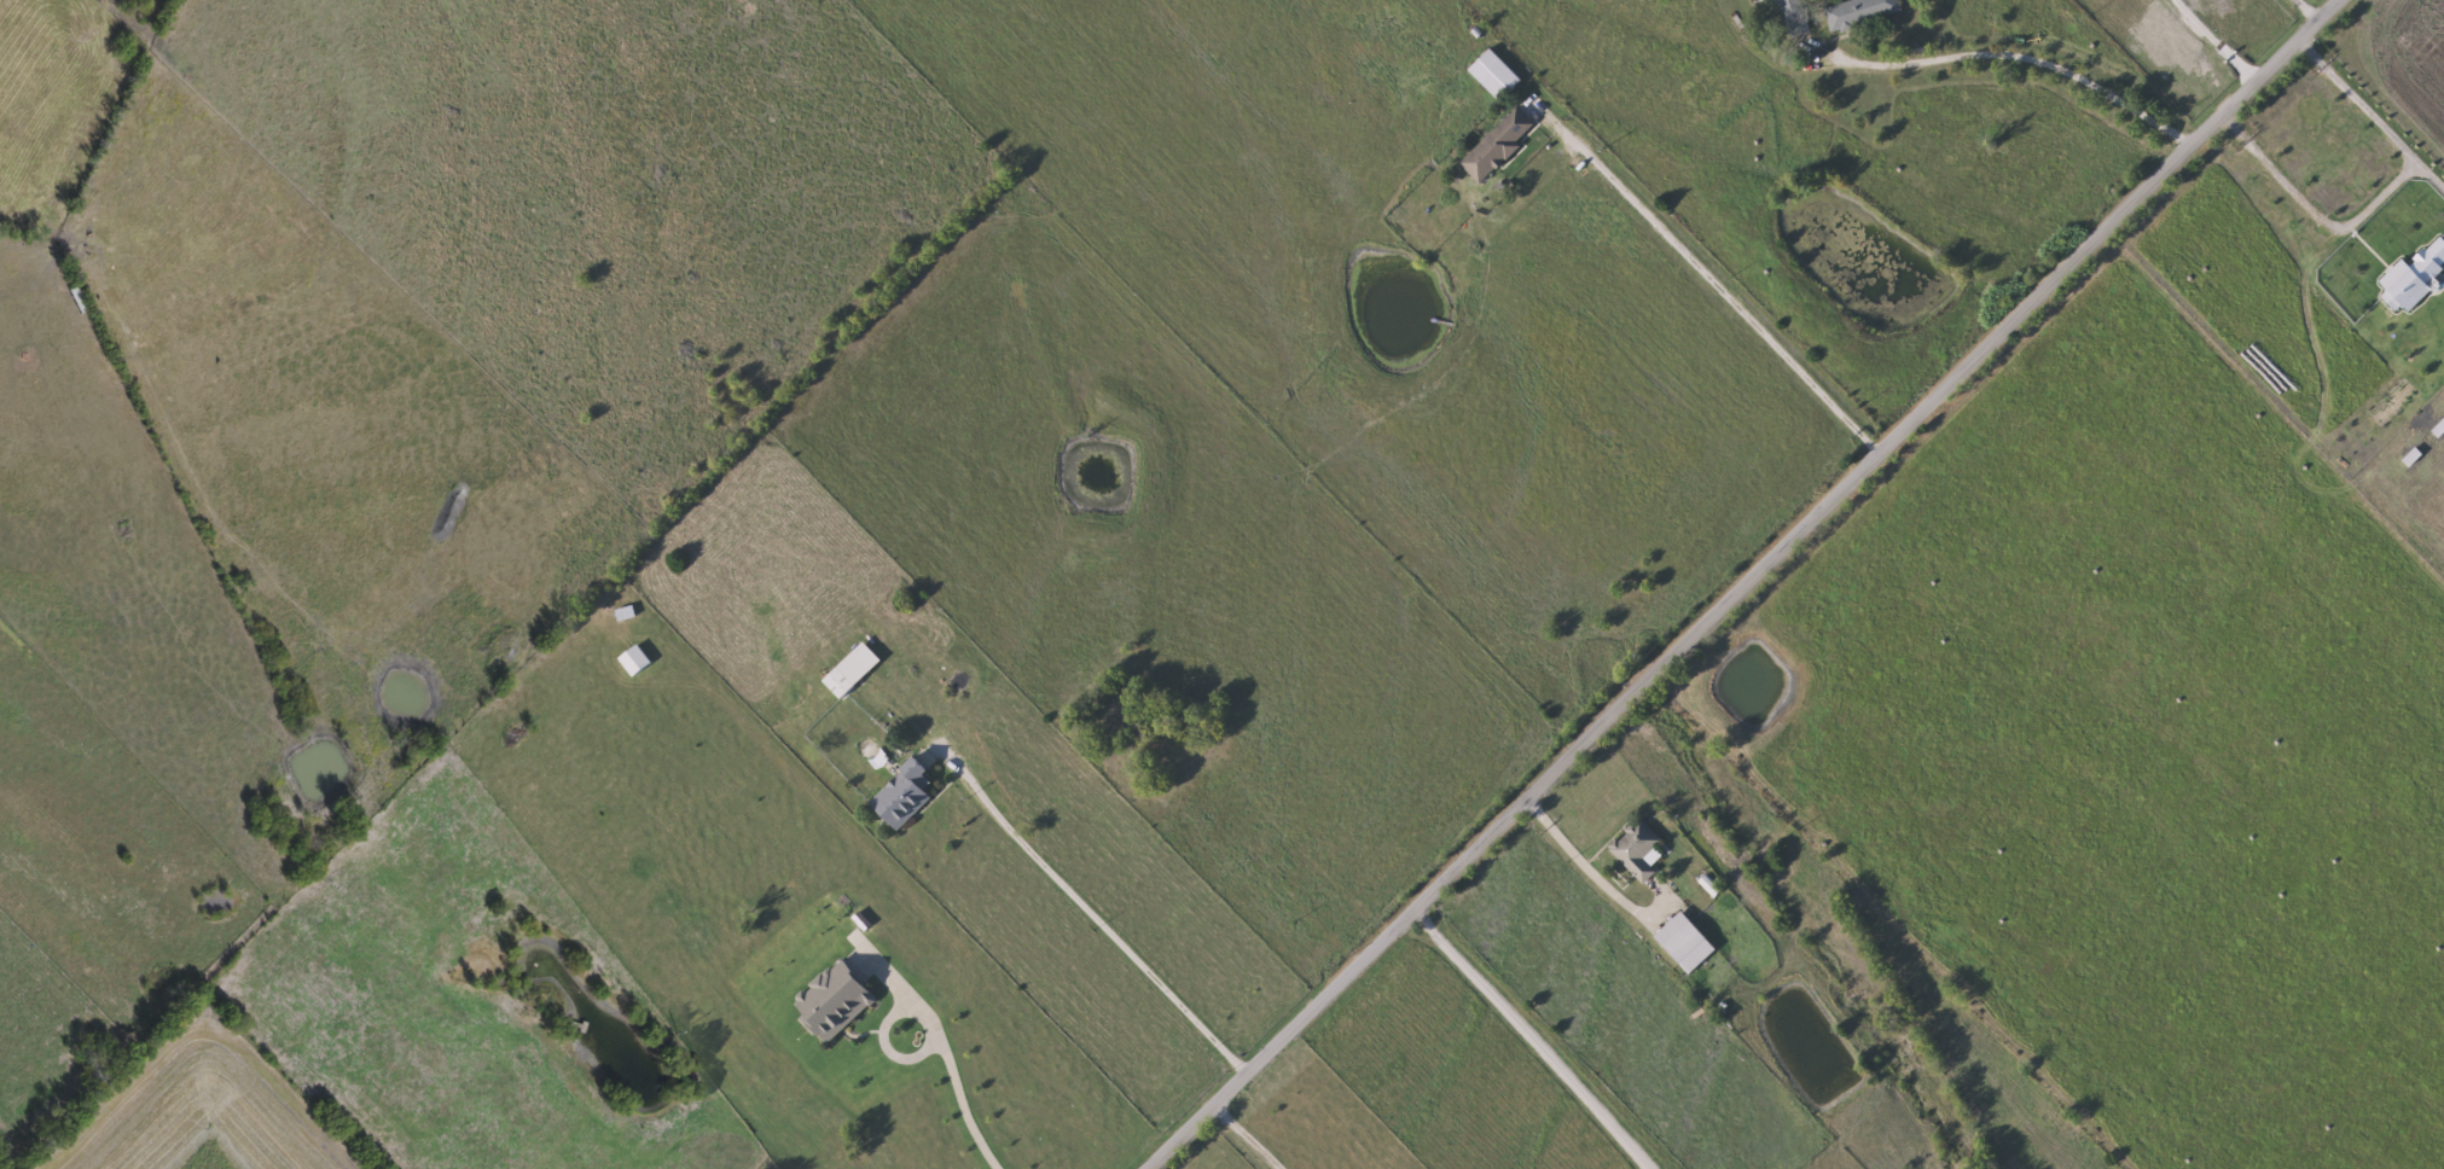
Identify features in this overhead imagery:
road: (2300, 11)
building: (1863, 12)
building: (1798, 18)
road: (2208, 42)
road: (2027, 52)
building: (1500, 145)
road: (2432, 174)
road: (2382, 196)
road: (1714, 283)
road: (1738, 584)
building: (629, 615)
building: (842, 685)
building: (906, 796)
building: (1639, 851)
road: (1579, 859)
road: (1110, 930)
building: (1687, 943)
building: (837, 1002)
road: (887, 1031)
road: (1525, 1039)
road: (964, 1104)
road: (1237, 1138)

